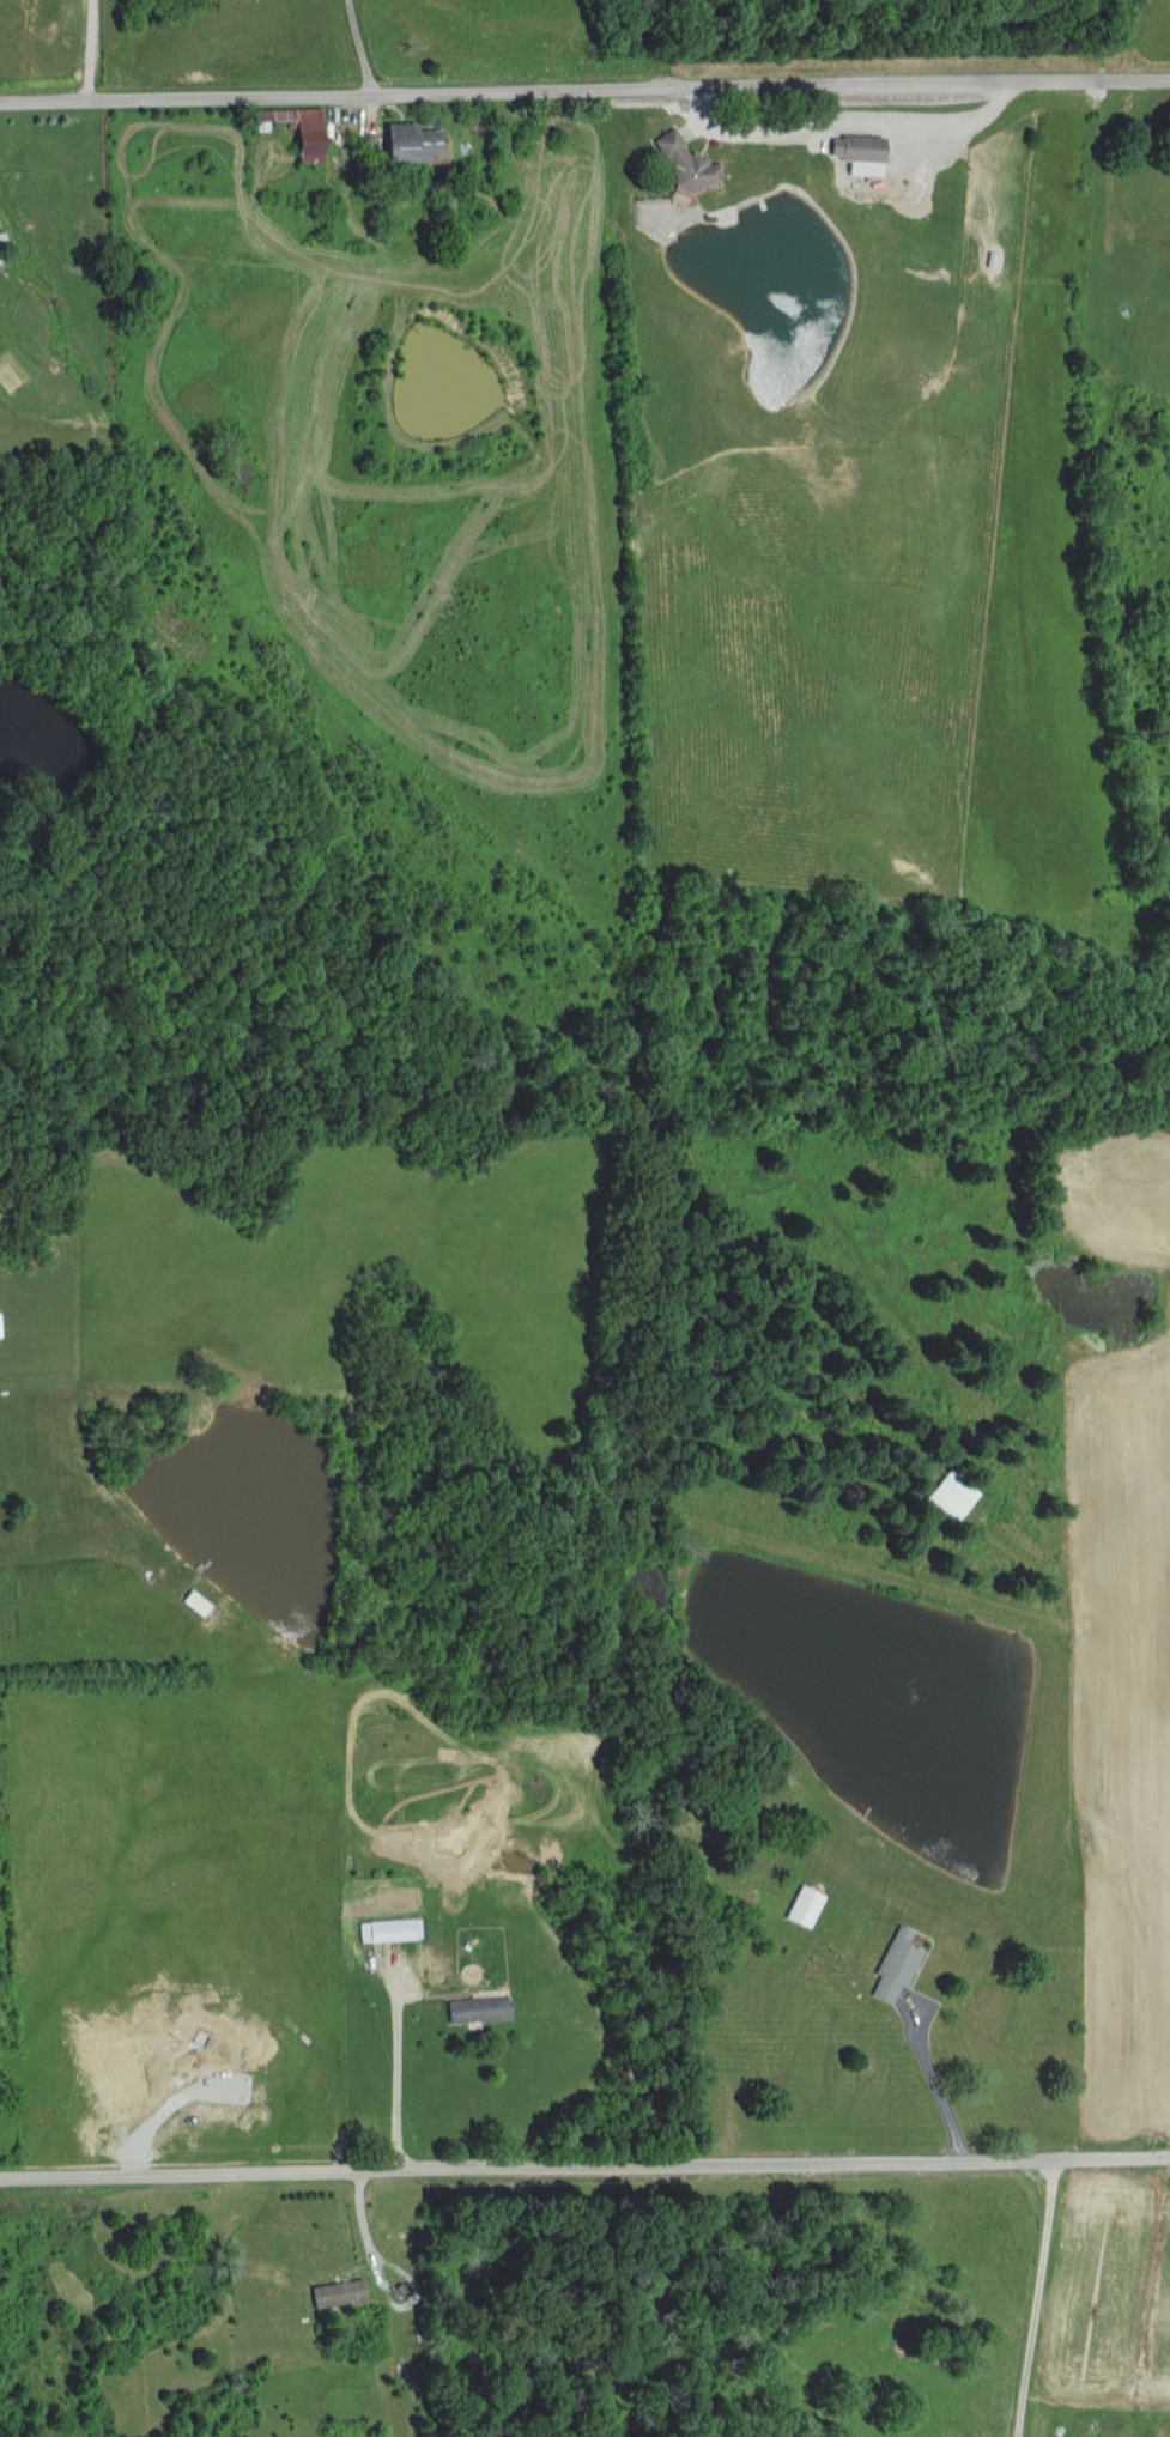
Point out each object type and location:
road: (353, 48)
road: (81, 50)
road: (584, 95)
building: (295, 131)
building: (411, 144)
building: (366, 146)
building: (856, 153)
building: (681, 162)
building: (950, 1497)
building: (194, 1604)
building: (802, 1906)
building: (392, 1930)
building: (893, 1966)
building: (477, 2009)
road: (392, 2079)
road: (584, 2174)
road: (362, 2245)
building: (337, 2293)
road: (1031, 2299)

